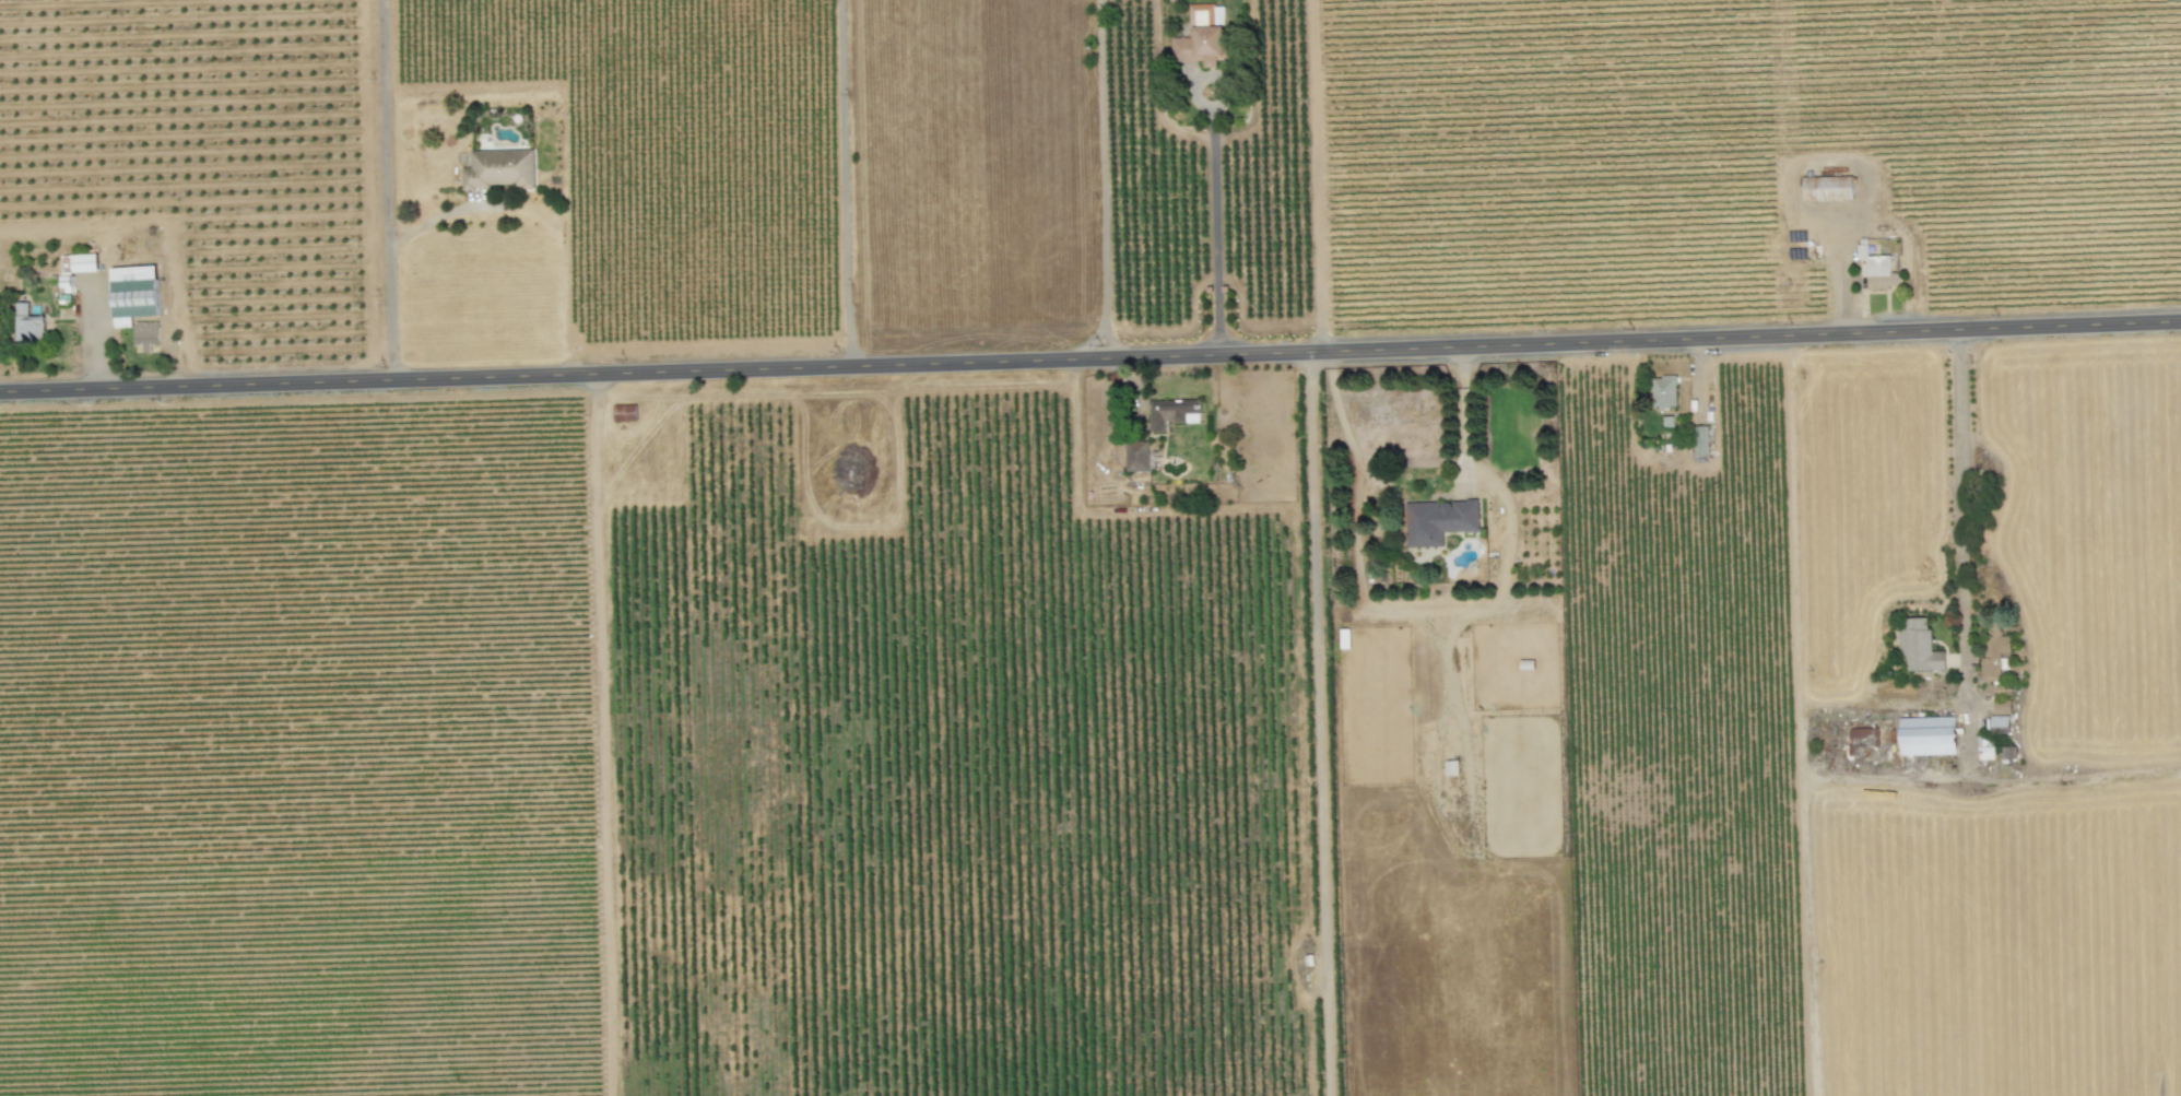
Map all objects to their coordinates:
building: (1202, 35)
building: (499, 169)
road: (840, 182)
building: (1827, 188)
road: (380, 189)
road: (1105, 193)
road: (1215, 224)
building: (1879, 272)
building: (133, 294)
building: (28, 326)
building: (145, 334)
road: (92, 335)
road: (1090, 357)
building: (1664, 392)
building: (1172, 413)
road: (1464, 413)
building: (1699, 440)
building: (1136, 457)
building: (1438, 521)
building: (1918, 646)
building: (1993, 652)
building: (2002, 707)
road: (1319, 723)
building: (1926, 735)
building: (1985, 751)
road: (1884, 777)

